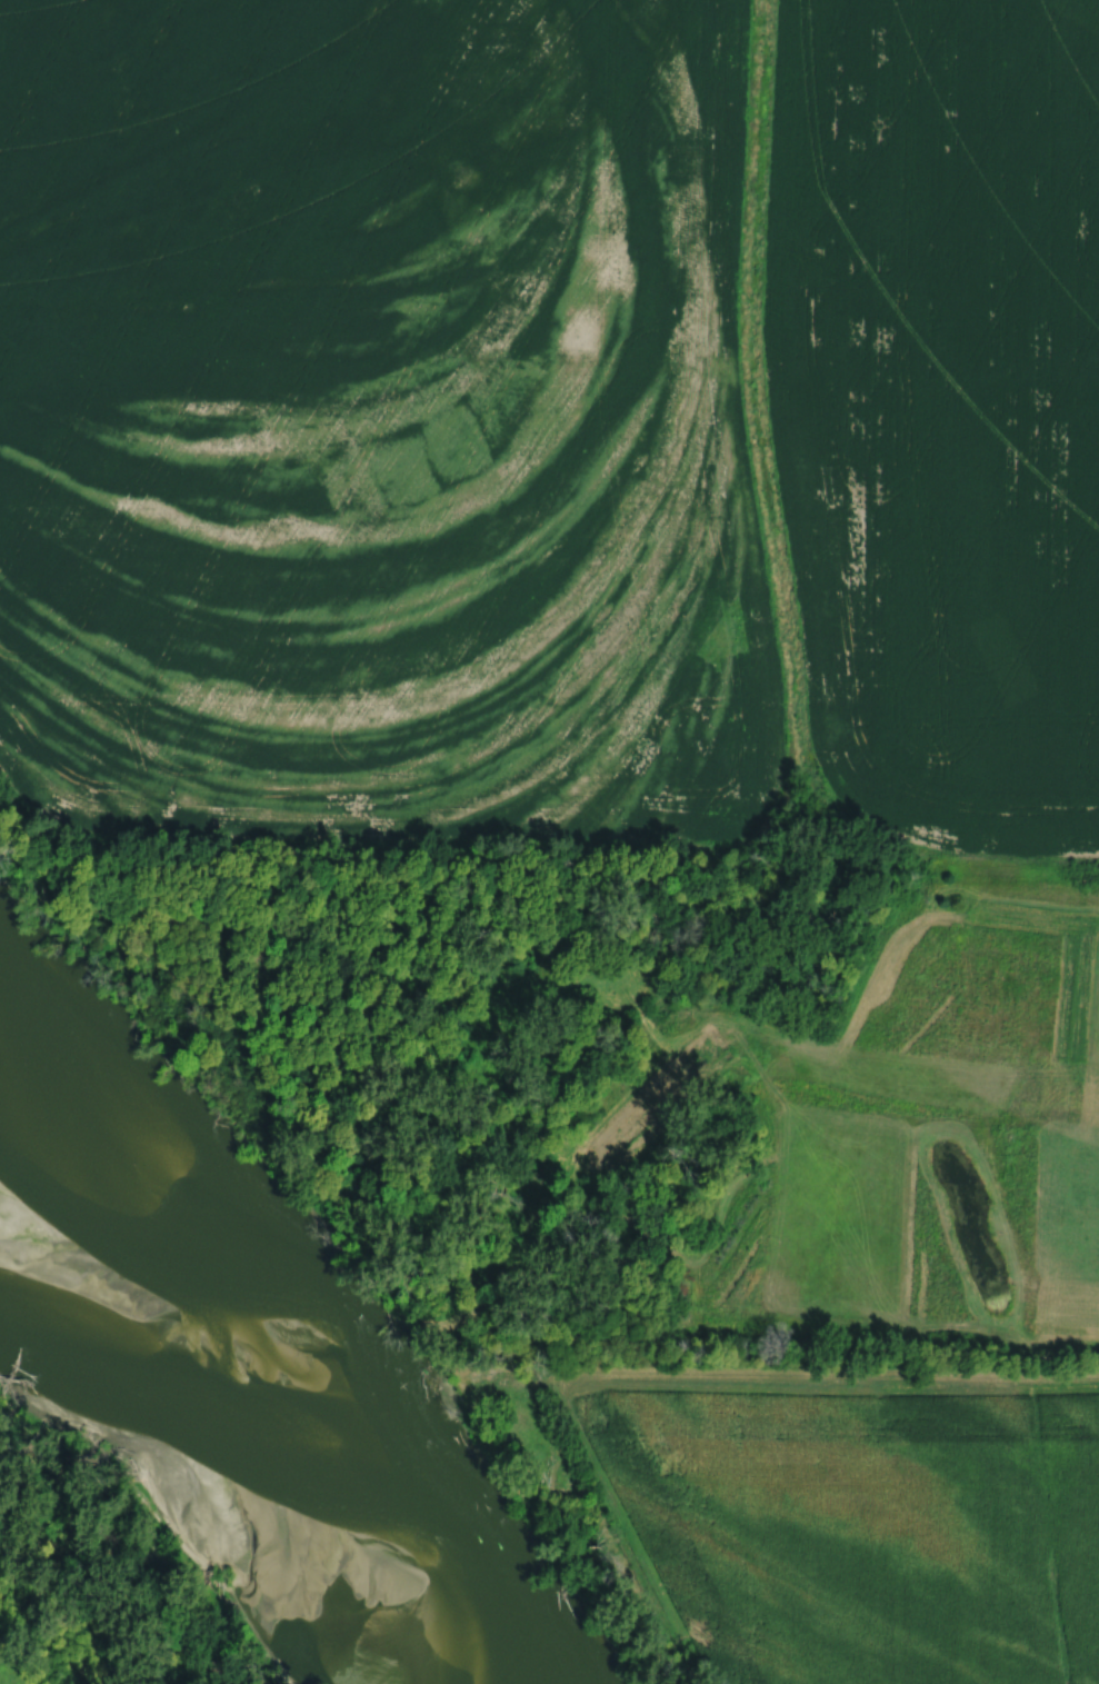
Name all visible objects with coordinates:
river: (240, 1368)

